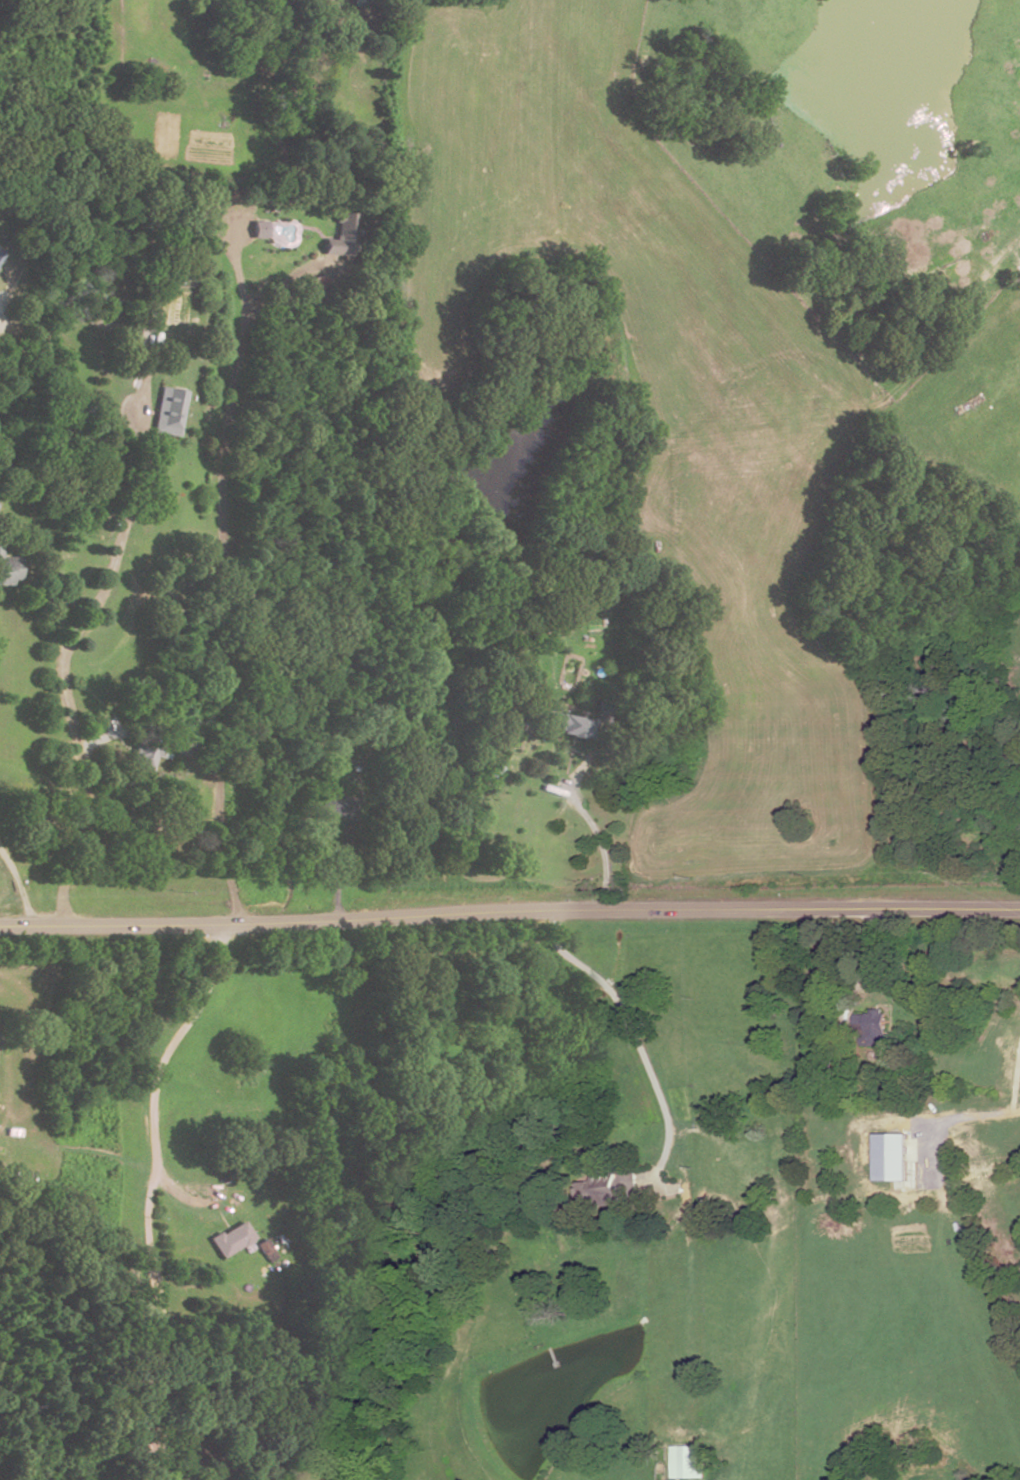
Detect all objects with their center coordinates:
building: (344, 225)
building: (257, 228)
building: (1, 254)
building: (2, 260)
building: (315, 284)
road: (9, 287)
building: (105, 307)
building: (130, 340)
building: (167, 412)
road: (222, 564)
building: (7, 571)
road: (60, 663)
building: (601, 714)
building: (563, 726)
road: (102, 738)
building: (144, 754)
building: (338, 806)
road: (587, 816)
road: (340, 872)
road: (19, 886)
road: (509, 912)
building: (877, 1027)
road: (634, 1037)
road: (1017, 1092)
road: (968, 1113)
building: (892, 1156)
building: (604, 1190)
road: (147, 1195)
building: (229, 1240)
building: (265, 1249)
pier: (552, 1356)
building: (693, 1462)

